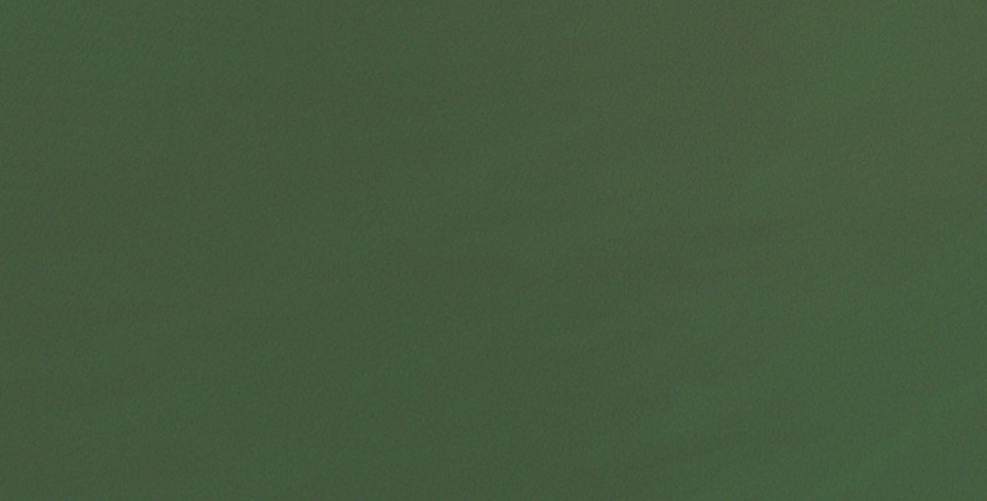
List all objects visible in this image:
river: (872, 243)

